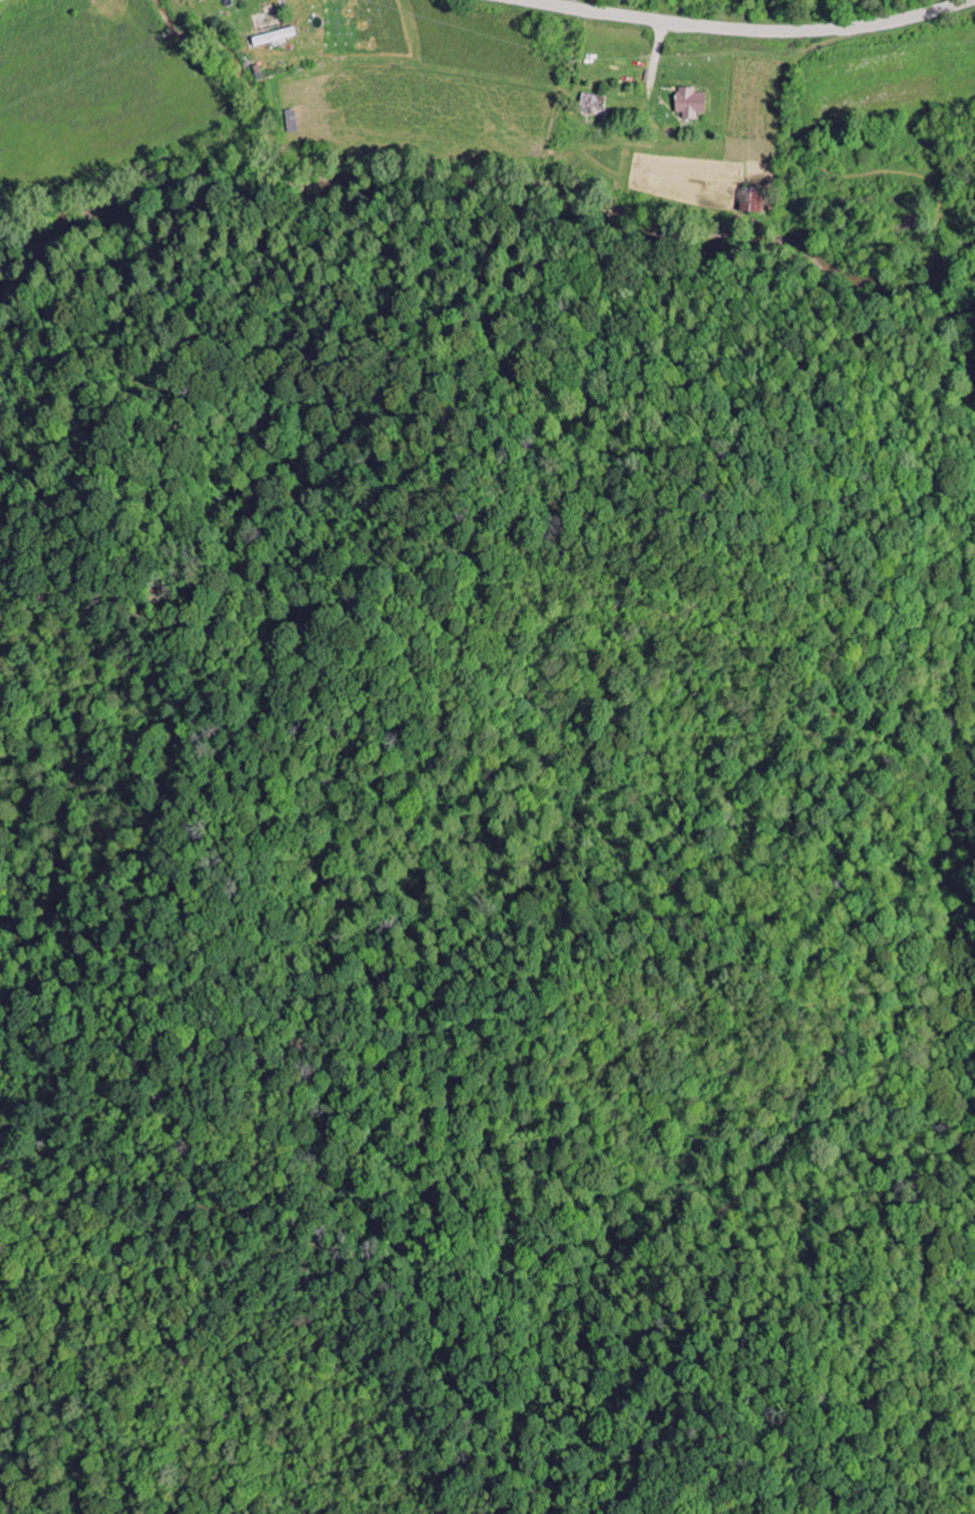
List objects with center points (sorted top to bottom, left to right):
road: (748, 29)
building: (693, 102)
road: (725, 102)

